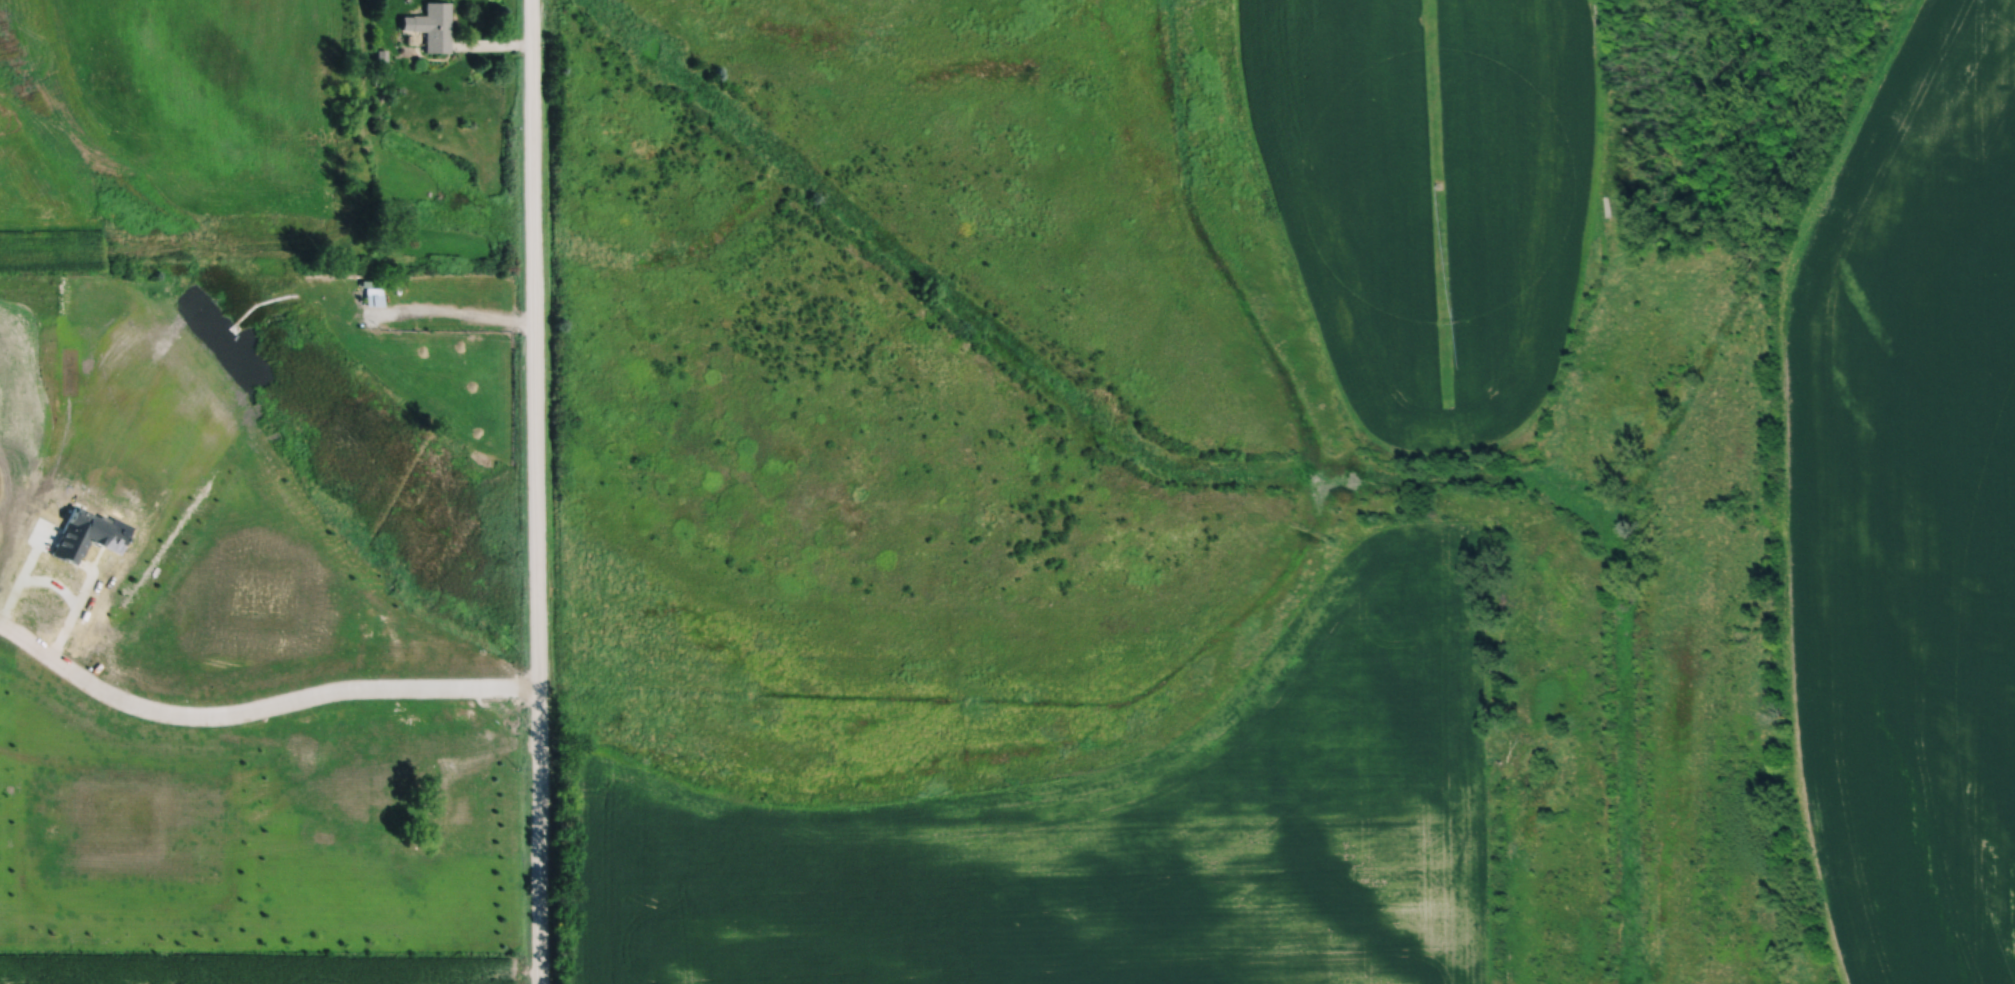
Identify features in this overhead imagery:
building: (430, 27)
building: (381, 60)
crop: (1431, 197)
building: (372, 299)
road: (456, 309)
road: (536, 491)
crop: (1911, 509)
road: (57, 586)
road: (258, 709)
building: (464, 710)
building: (377, 730)
building: (358, 784)
crop: (1107, 832)
crop: (258, 966)

